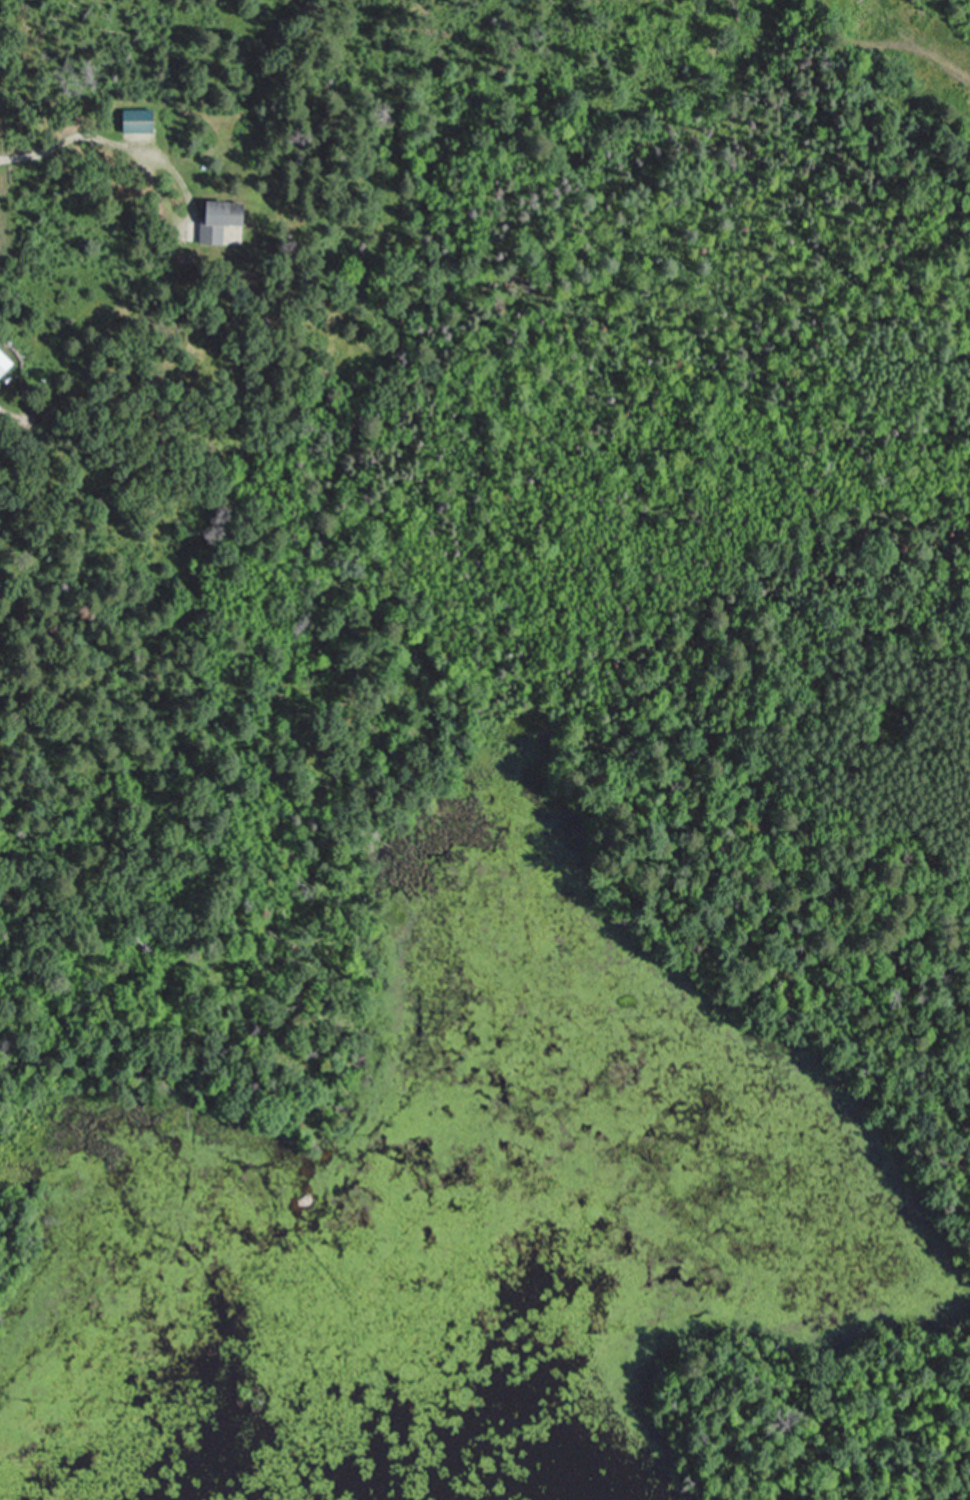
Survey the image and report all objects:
road: (913, 42)
building: (226, 217)

